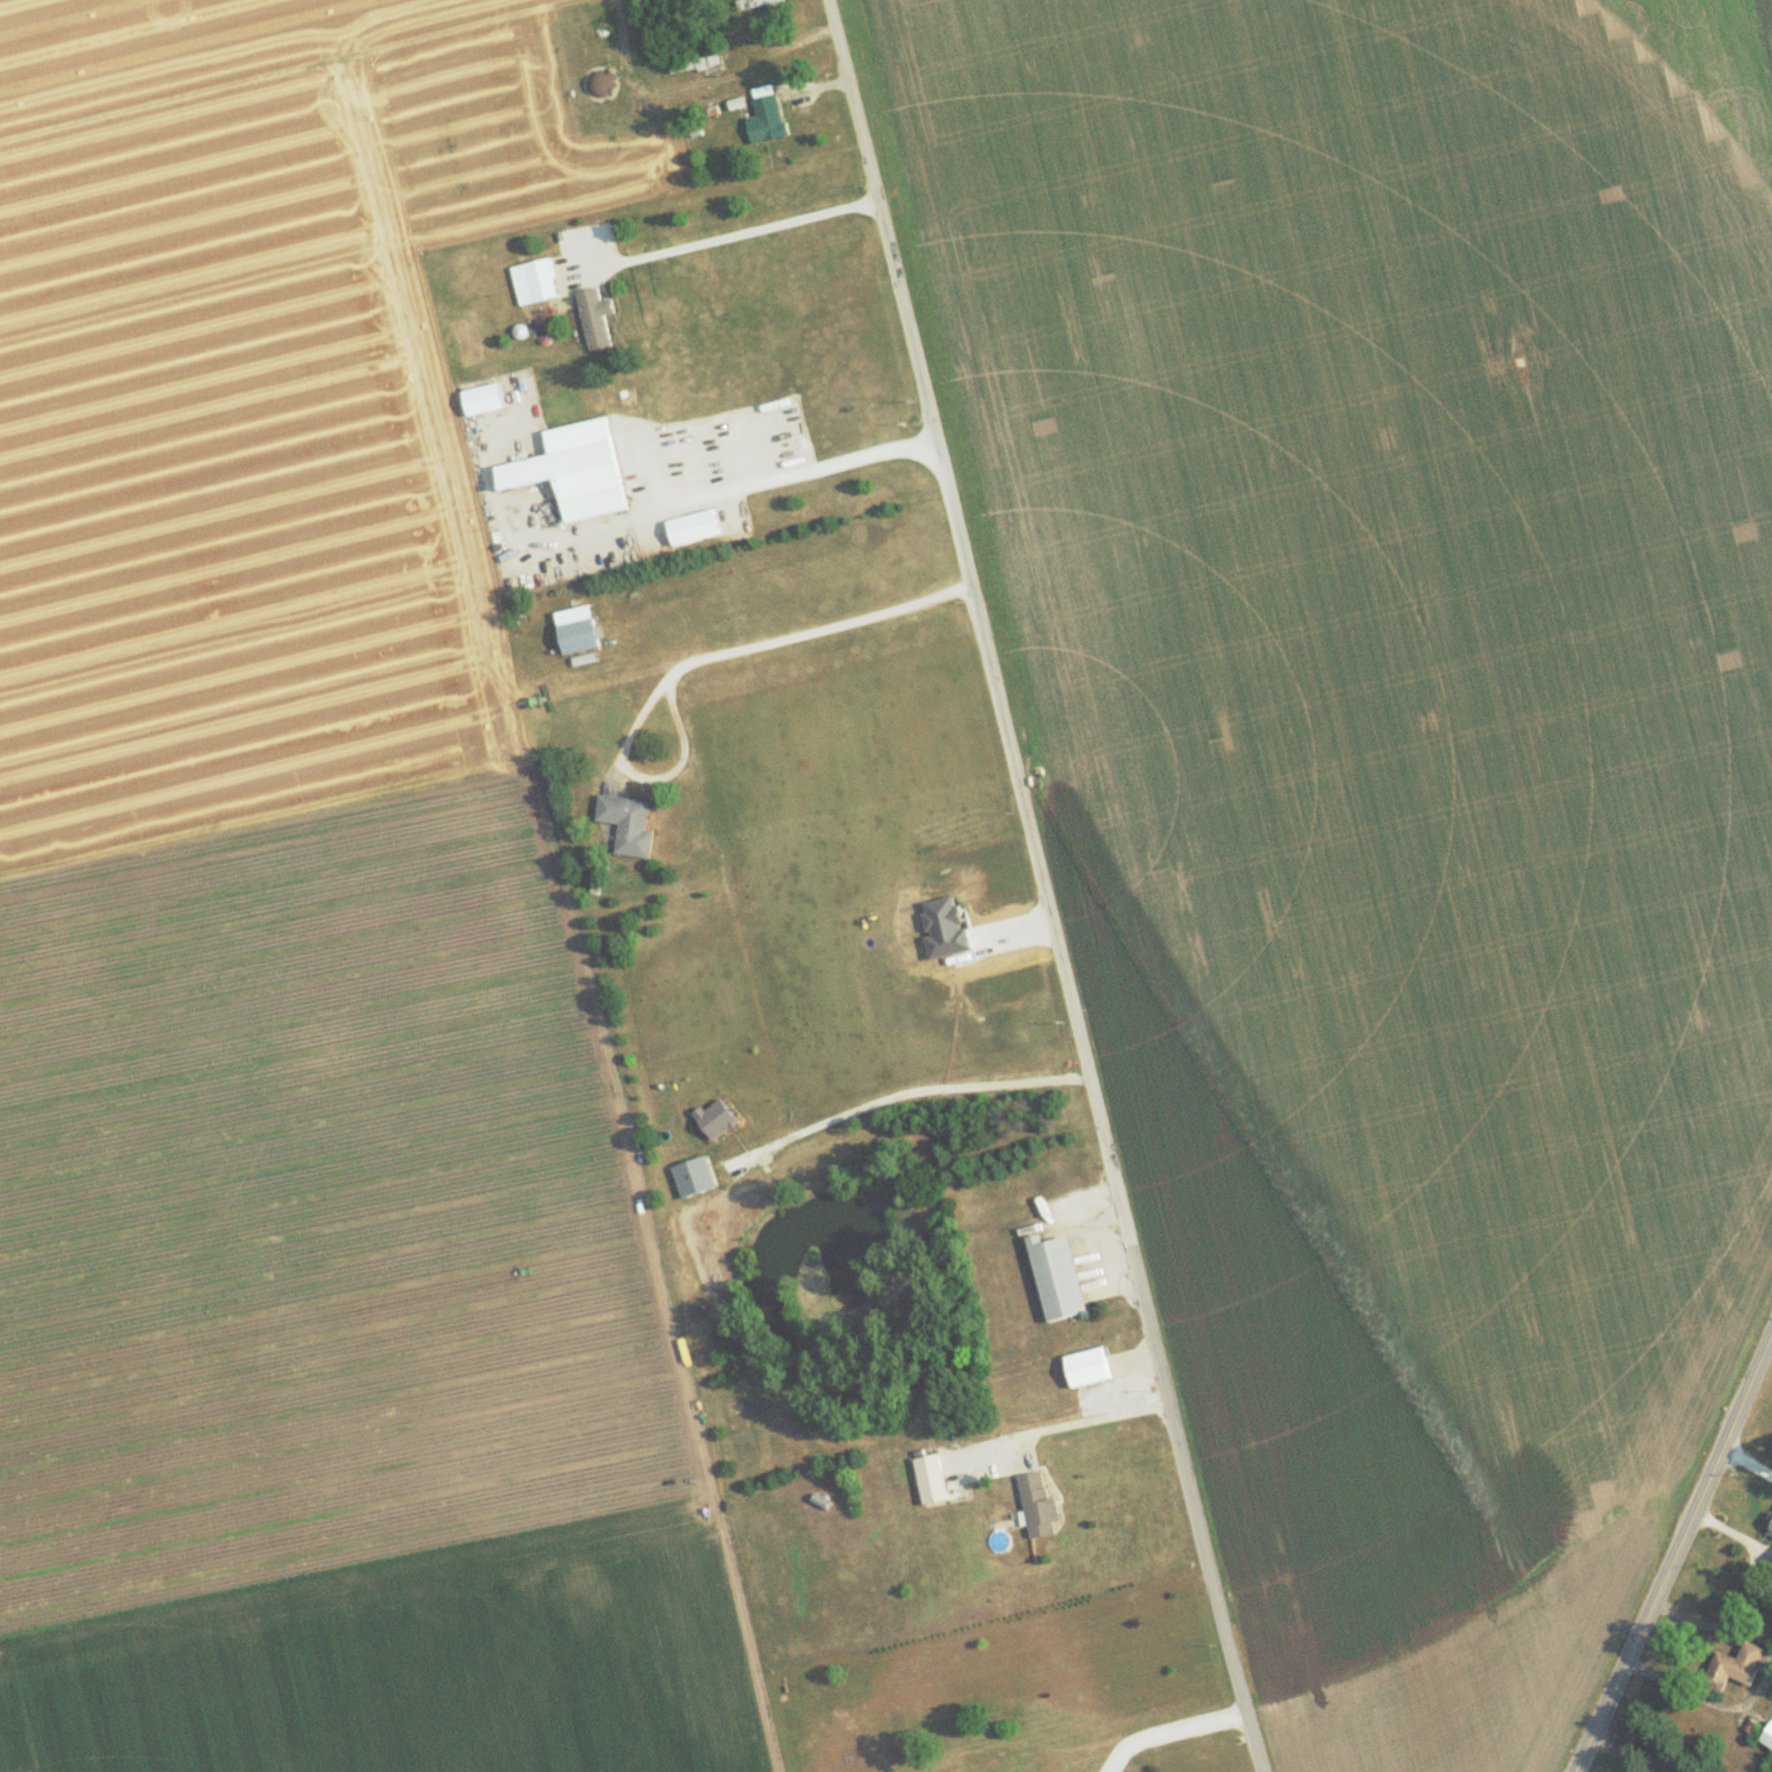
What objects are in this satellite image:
road: (741, 233)
road: (791, 474)
road: (695, 660)
road: (1042, 886)
road: (905, 1091)
road: (1124, 1371)
road: (1063, 1424)
road: (1748, 1467)
road: (1680, 1559)
road: (1168, 1730)

